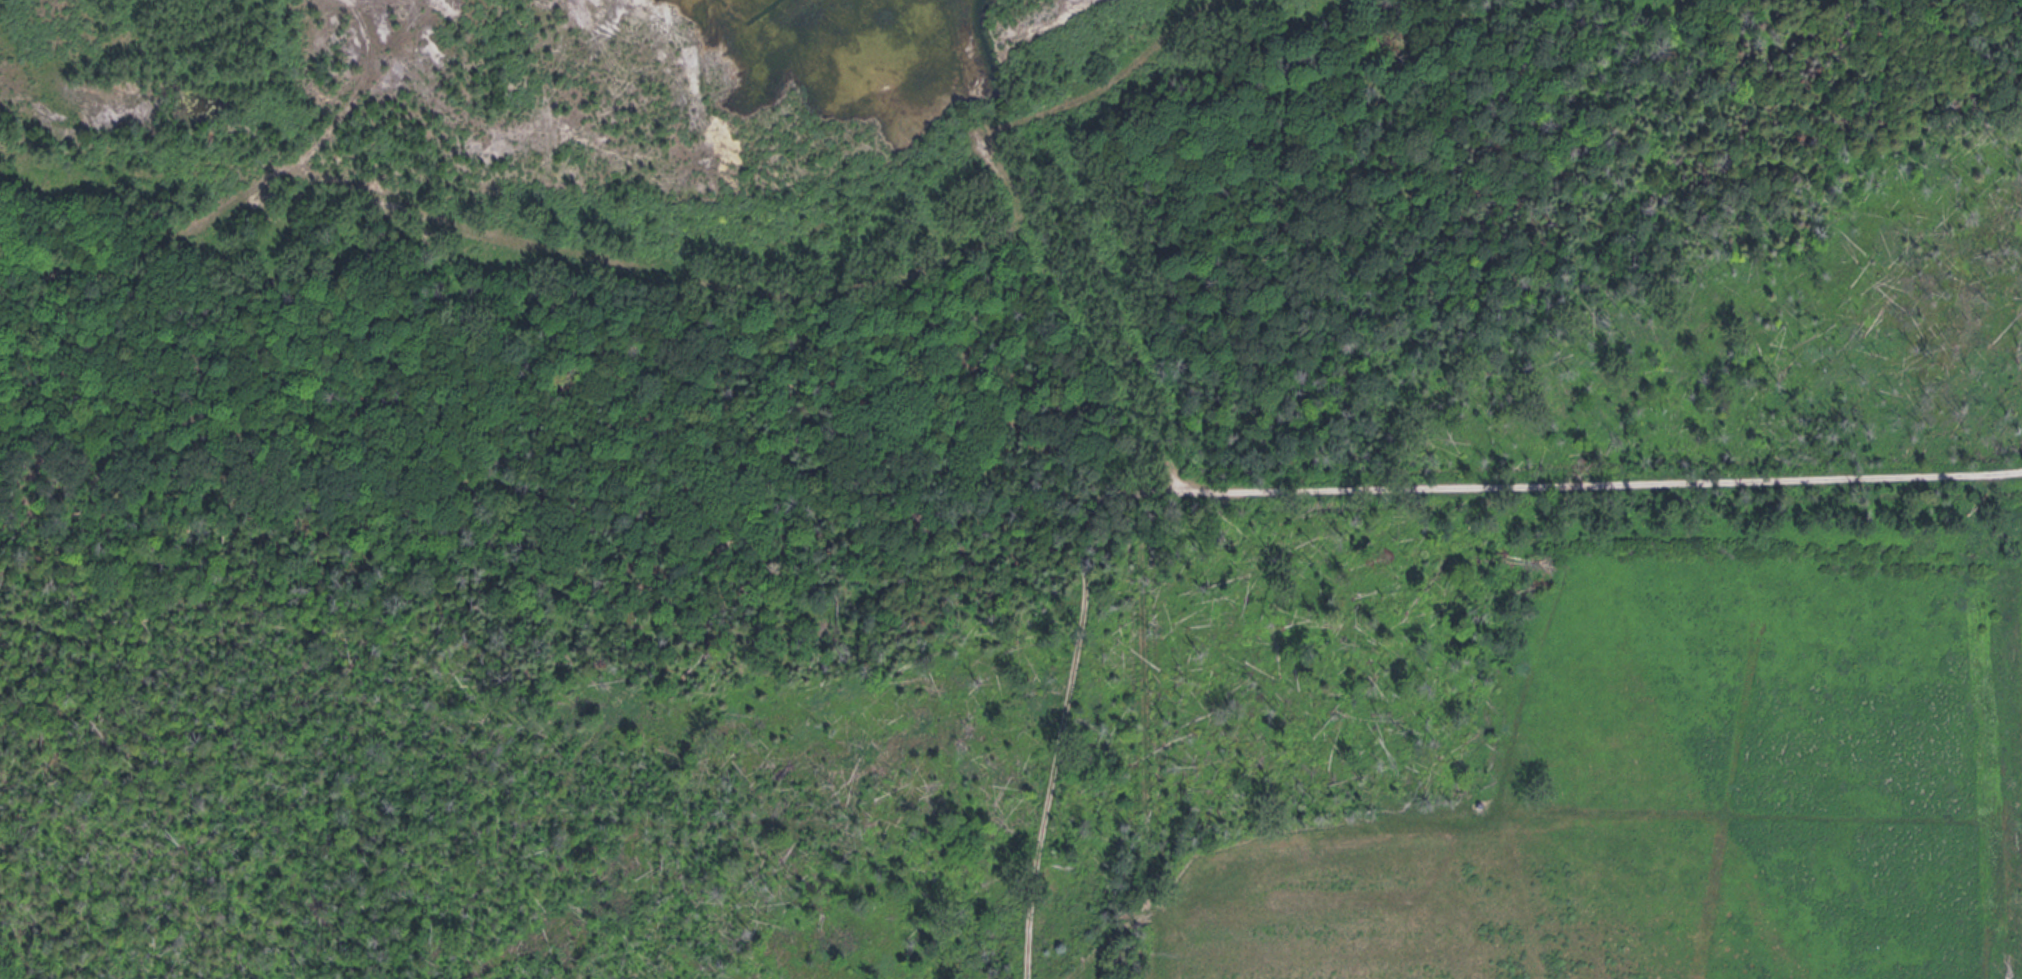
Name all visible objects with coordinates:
road: (1010, 486)
road: (1062, 735)

